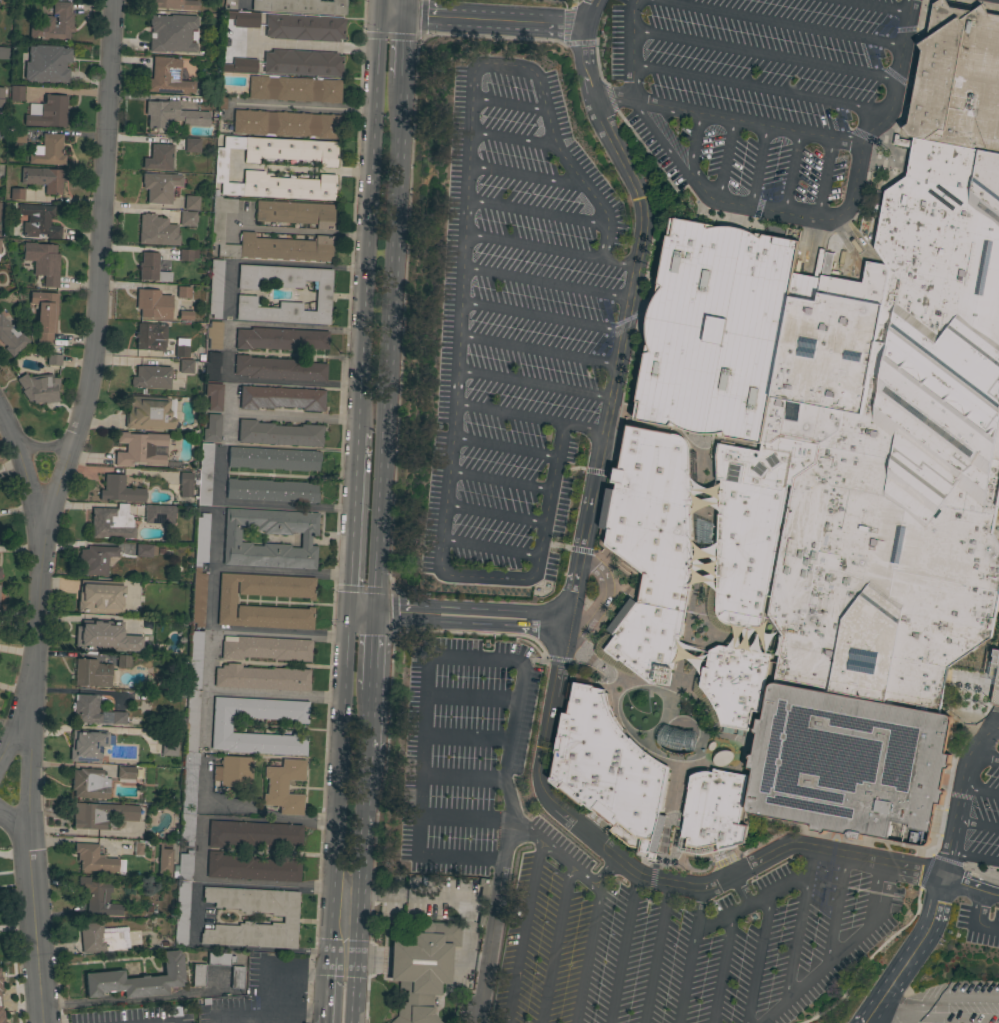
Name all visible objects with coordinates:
parking lot: (567, 0)
road: (243, 1)
building: (175, 4)
building: (230, 4)
building: (300, 6)
road: (875, 6)
road: (377, 7)
road: (400, 8)
building: (243, 18)
road: (481, 20)
road: (784, 22)
building: (53, 24)
road: (565, 26)
building: (303, 27)
building: (173, 33)
road: (410, 38)
road: (577, 43)
road: (307, 45)
road: (398, 45)
road: (637, 49)
building: (3, 53)
road: (769, 55)
building: (302, 62)
building: (46, 64)
road: (595, 64)
building: (240, 65)
road: (508, 66)
building: (166, 76)
building: (293, 89)
road: (765, 89)
parking lot: (761, 92)
building: (16, 93)
building: (1, 96)
road: (610, 98)
road: (508, 104)
road: (302, 108)
building: (49, 112)
building: (173, 115)
road: (621, 119)
road: (753, 122)
building: (285, 124)
building: (18, 135)
road: (511, 139)
road: (695, 139)
building: (191, 145)
building: (47, 150)
building: (158, 157)
road: (725, 159)
road: (757, 166)
building: (220, 168)
road: (299, 168)
road: (790, 173)
road: (526, 176)
building: (43, 178)
road: (822, 179)
building: (159, 186)
building: (16, 194)
road: (593, 197)
building: (191, 203)
building: (295, 213)
road: (535, 213)
building: (187, 218)
road: (812, 219)
building: (38, 221)
road: (367, 223)
building: (156, 230)
road: (296, 230)
building: (264, 240)
road: (404, 247)
road: (533, 247)
road: (462, 251)
building: (185, 255)
building: (43, 261)
road: (621, 263)
road: (275, 264)
building: (151, 268)
road: (548, 283)
building: (215, 288)
building: (183, 292)
building: (322, 292)
building: (153, 303)
building: (44, 315)
building: (185, 315)
road: (544, 318)
building: (214, 334)
parking lot: (520, 335)
building: (150, 336)
building: (11, 337)
building: (280, 338)
road: (385, 343)
building: (181, 347)
road: (228, 351)
road: (540, 351)
building: (53, 359)
building: (185, 366)
building: (212, 366)
building: (278, 368)
building: (151, 377)
road: (536, 382)
building: (39, 387)
building: (213, 396)
building: (280, 398)
building: (149, 413)
road: (507, 413)
road: (293, 414)
road: (583, 426)
building: (211, 428)
building: (278, 433)
road: (613, 442)
road: (47, 447)
road: (503, 447)
building: (139, 448)
building: (272, 458)
road: (24, 465)
building: (204, 474)
road: (498, 481)
building: (185, 484)
building: (119, 490)
building: (271, 490)
road: (263, 503)
building: (808, 506)
road: (47, 508)
building: (158, 514)
road: (494, 514)
road: (353, 521)
building: (111, 522)
building: (201, 538)
building: (231, 539)
road: (552, 545)
road: (490, 549)
building: (145, 550)
road: (579, 550)
building: (95, 559)
road: (281, 570)
road: (464, 576)
road: (615, 591)
building: (99, 596)
building: (198, 597)
building: (226, 601)
road: (598, 604)
road: (565, 611)
road: (456, 615)
road: (209, 623)
road: (278, 632)
building: (105, 636)
parking lot: (693, 636)
road: (369, 639)
building: (265, 648)
road: (427, 657)
road: (558, 659)
building: (123, 661)
road: (535, 662)
building: (91, 673)
building: (261, 677)
building: (995, 677)
parking garage: (995, 677)
road: (366, 679)
road: (274, 692)
road: (468, 699)
building: (85, 709)
building: (119, 718)
road: (364, 719)
road: (67, 728)
building: (221, 728)
road: (994, 734)
road: (463, 737)
road: (12, 741)
building: (190, 741)
building: (169, 744)
building: (87, 745)
road: (385, 748)
parking lot: (467, 749)
road: (987, 758)
building: (233, 771)
building: (125, 772)
road: (460, 776)
building: (89, 783)
road: (337, 783)
building: (284, 786)
road: (963, 794)
road: (981, 795)
building: (100, 815)
road: (460, 816)
parking lot: (984, 821)
road: (16, 823)
road: (588, 823)
road: (978, 828)
building: (252, 833)
building: (137, 848)
road: (199, 848)
road: (552, 854)
road: (975, 855)
building: (93, 858)
building: (163, 858)
building: (251, 868)
road: (605, 874)
road: (355, 884)
road: (969, 886)
building: (482, 888)
road: (739, 888)
building: (98, 898)
building: (182, 898)
road: (749, 903)
road: (835, 908)
road: (193, 914)
building: (289, 919)
road: (974, 921)
road: (798, 923)
parking lot: (979, 926)
road: (521, 933)
building: (99, 938)
parking lot: (674, 938)
road: (487, 943)
road: (554, 945)
road: (620, 949)
road: (838, 951)
road: (654, 953)
road: (910, 953)
road: (686, 955)
road: (587, 956)
road: (757, 958)
building: (219, 959)
road: (370, 961)
road: (721, 967)
building: (422, 969)
building: (198, 975)
road: (284, 975)
building: (236, 977)
building: (137, 980)
road: (325, 986)
road: (21, 998)
road: (139, 999)
road: (939, 999)
road: (893, 1009)
road: (267, 1015)
building: (1, 1017)
road: (949, 1017)
road: (323, 1019)

